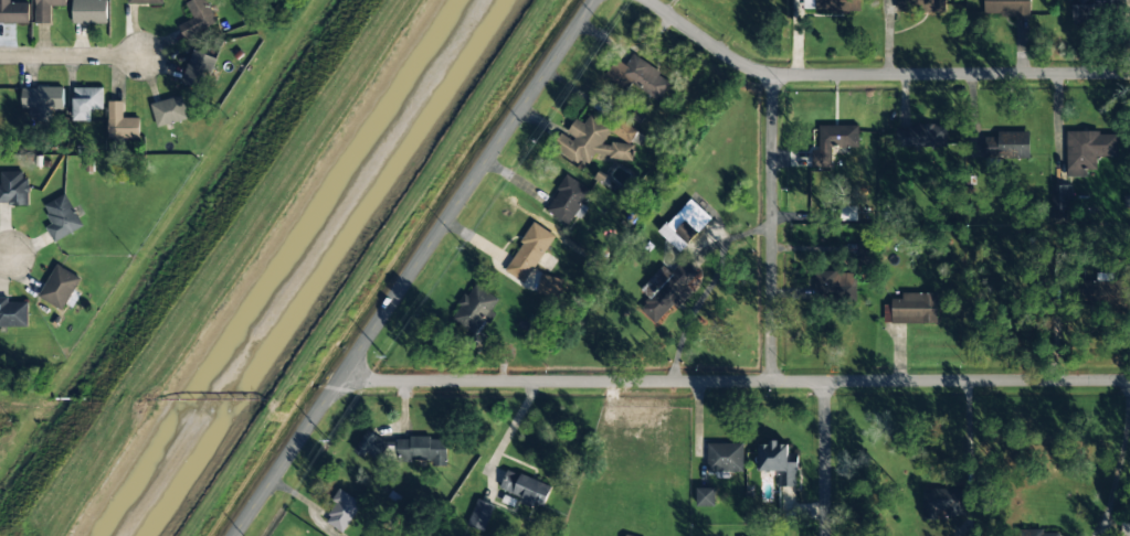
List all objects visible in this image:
building: (145, 2)
building: (826, 6)
building: (920, 6)
building: (1006, 8)
building: (45, 9)
building: (89, 11)
building: (1083, 11)
building: (13, 12)
building: (197, 18)
road: (72, 54)
building: (198, 71)
road: (878, 72)
building: (641, 78)
building: (41, 100)
building: (86, 101)
building: (169, 111)
building: (120, 122)
building: (624, 131)
building: (919, 136)
building: (590, 142)
building: (833, 142)
building: (1006, 146)
building: (1088, 150)
building: (13, 187)
building: (1059, 197)
building: (568, 201)
building: (62, 218)
building: (685, 225)
road: (773, 226)
building: (529, 253)
road: (6, 254)
building: (865, 254)
road: (415, 267)
building: (835, 282)
building: (548, 286)
building: (59, 287)
building: (665, 291)
building: (1101, 294)
building: (474, 309)
building: (911, 309)
building: (13, 313)
road: (735, 380)
building: (371, 447)
building: (421, 450)
road: (826, 458)
building: (724, 459)
building: (777, 462)
building: (525, 489)
building: (705, 497)
building: (942, 502)
building: (342, 511)
building: (479, 515)
building: (1124, 528)
building: (1038, 534)
building: (626, 535)

